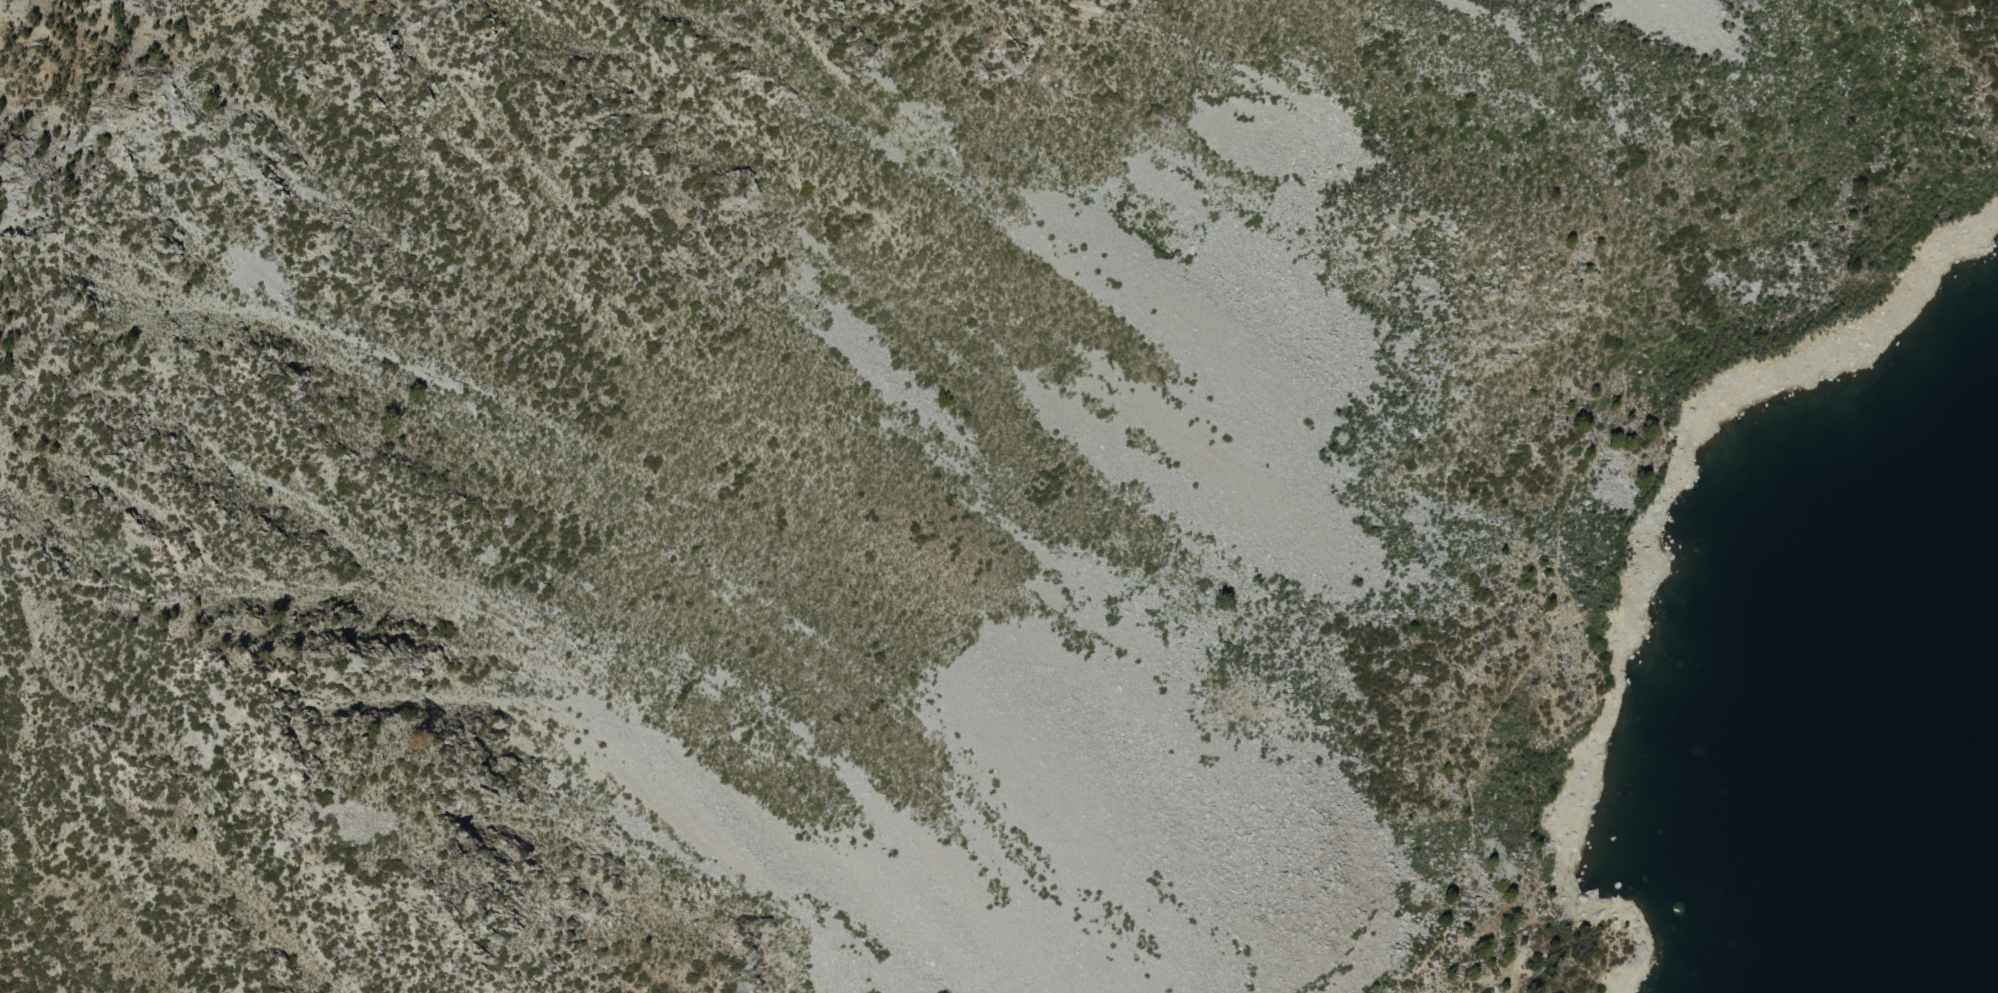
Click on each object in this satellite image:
road: (1577, 493)

